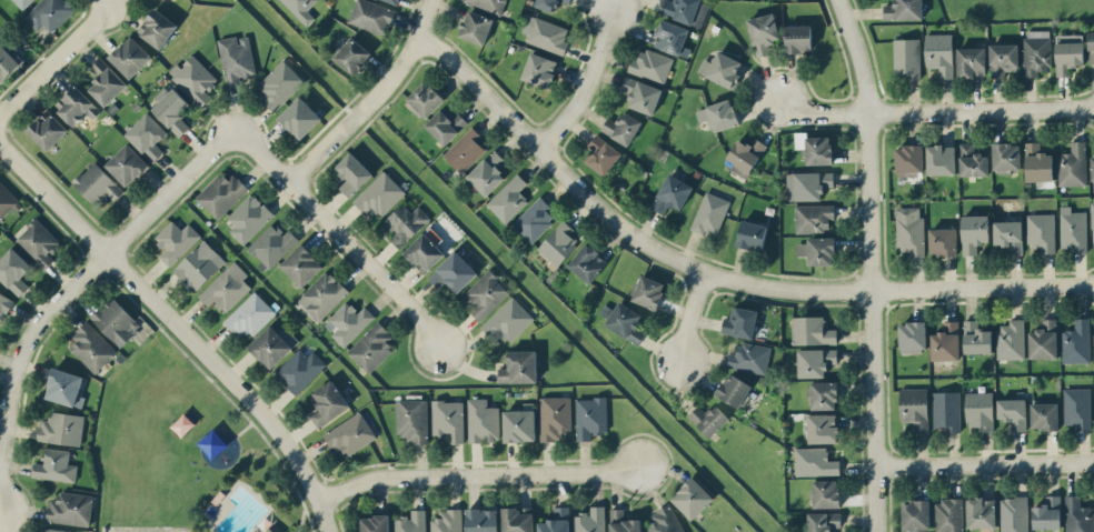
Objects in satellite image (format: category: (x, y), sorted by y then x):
building: (394, 1)
building: (566, 1)
building: (24, 2)
building: (489, 4)
building: (547, 4)
building: (301, 9)
building: (686, 10)
building: (904, 10)
building: (49, 13)
building: (371, 16)
building: (476, 27)
building: (157, 28)
building: (763, 32)
building: (546, 33)
building: (670, 37)
building: (798, 38)
building: (1091, 46)
building: (1036, 51)
building: (1068, 52)
building: (939, 53)
road: (54, 54)
building: (352, 54)
building: (130, 57)
building: (237, 57)
building: (906, 57)
building: (9, 58)
building: (1004, 58)
building: (972, 61)
building: (650, 64)
building: (722, 68)
building: (539, 69)
building: (193, 78)
building: (106, 81)
road: (588, 82)
building: (279, 86)
building: (642, 94)
building: (426, 98)
road: (370, 99)
building: (76, 104)
building: (170, 109)
road: (939, 109)
building: (722, 114)
building: (300, 117)
building: (446, 126)
building: (621, 127)
building: (47, 129)
building: (148, 134)
building: (465, 149)
building: (818, 150)
building: (601, 153)
building: (745, 155)
building: (1006, 155)
building: (909, 159)
building: (941, 159)
building: (973, 160)
building: (1037, 162)
building: (127, 164)
building: (1073, 164)
building: (1092, 167)
building: (487, 172)
building: (352, 173)
building: (97, 184)
building: (808, 184)
building: (221, 193)
building: (672, 193)
building: (380, 194)
building: (508, 198)
building: (6, 201)
building: (710, 213)
building: (248, 217)
building: (813, 217)
building: (534, 219)
building: (1092, 219)
building: (406, 222)
building: (1073, 229)
building: (909, 230)
building: (1041, 231)
building: (974, 232)
road: (339, 234)
building: (752, 234)
building: (1008, 234)
building: (176, 240)
building: (943, 240)
building: (38, 242)
building: (558, 243)
building: (272, 244)
building: (425, 250)
building: (817, 250)
building: (587, 262)
road: (872, 263)
building: (199, 264)
building: (301, 264)
building: (13, 270)
building: (454, 272)
road: (713, 272)
building: (226, 287)
road: (67, 291)
building: (648, 291)
building: (485, 293)
building: (322, 295)
building: (4, 303)
building: (249, 314)
road: (690, 318)
building: (508, 320)
building: (116, 321)
building: (740, 321)
building: (347, 322)
building: (626, 322)
road: (177, 327)
building: (812, 330)
road: (167, 335)
building: (913, 337)
building: (976, 338)
building: (1011, 339)
building: (1044, 339)
building: (946, 341)
building: (1076, 341)
building: (273, 344)
building: (91, 347)
building: (371, 347)
building: (750, 357)
building: (815, 361)
building: (519, 367)
building: (299, 369)
building: (66, 388)
building: (735, 389)
building: (824, 394)
building: (328, 402)
building: (1077, 406)
building: (914, 408)
building: (946, 410)
building: (979, 410)
building: (1013, 412)
building: (1044, 415)
building: (554, 416)
building: (590, 416)
building: (448, 419)
building: (708, 419)
building: (412, 420)
building: (483, 420)
building: (519, 424)
building: (61, 428)
building: (823, 428)
building: (350, 433)
park: (186, 452)
road: (985, 460)
building: (814, 461)
building: (56, 465)
road: (476, 473)
building: (825, 493)
building: (692, 498)
building: (70, 508)
building: (981, 512)
building: (1047, 513)
building: (948, 514)
building: (1014, 514)
building: (1077, 515)
building: (517, 519)
building: (481, 520)
building: (589, 520)
building: (665, 520)
building: (411, 521)
building: (447, 521)
building: (556, 521)
building: (824, 521)
building: (623, 522)
building: (375, 523)
building: (273, 528)
building: (54, 530)

